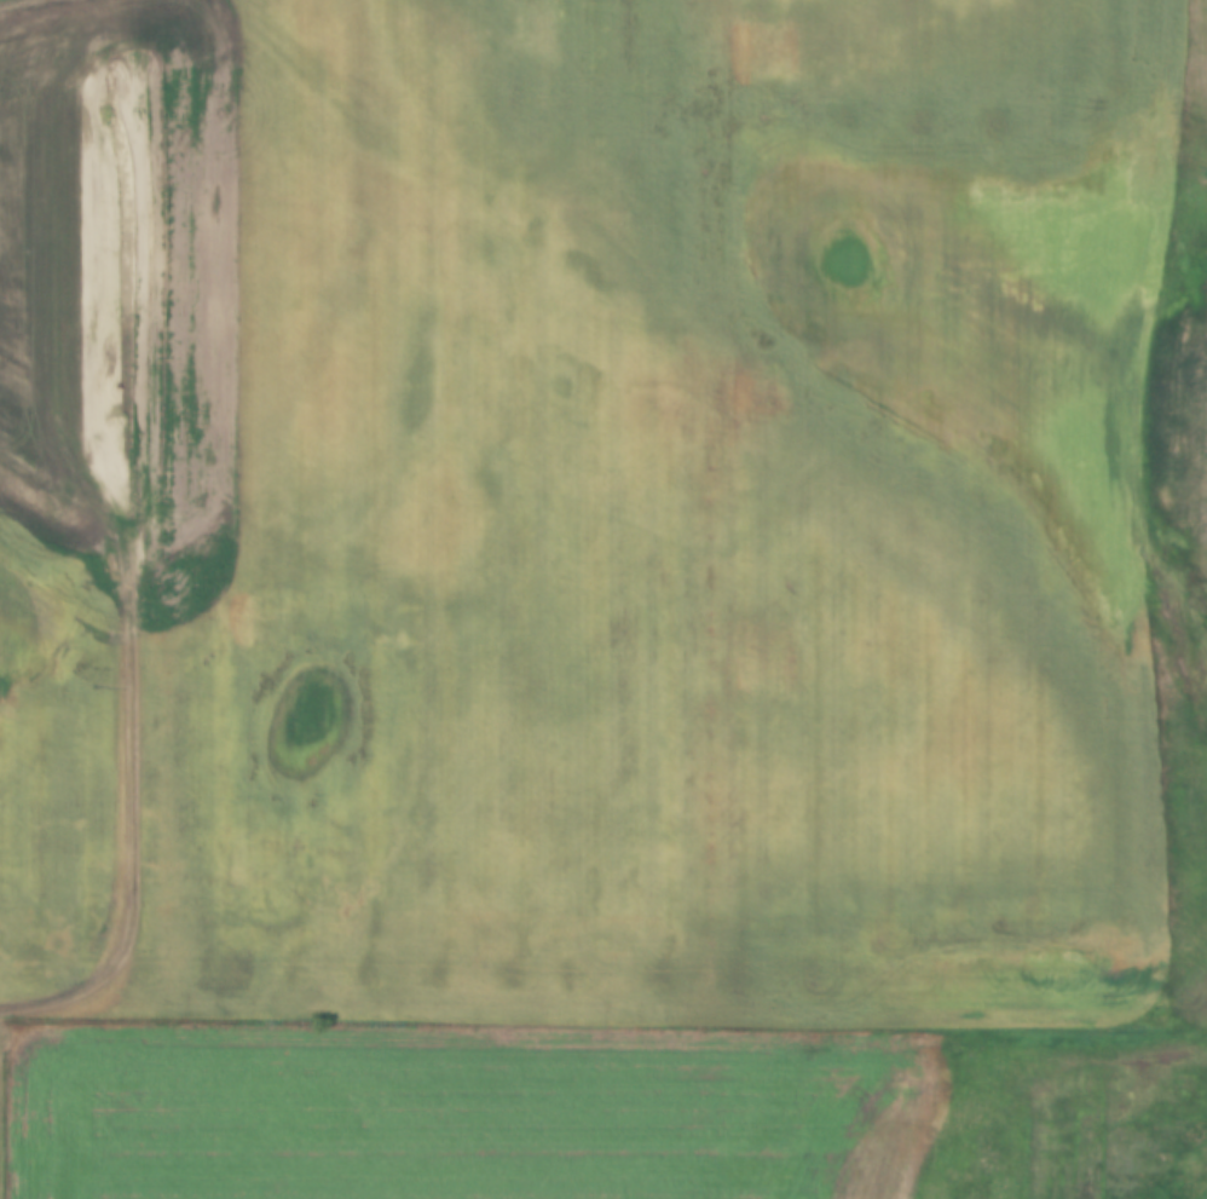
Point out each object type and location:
building: (1172, 617)

